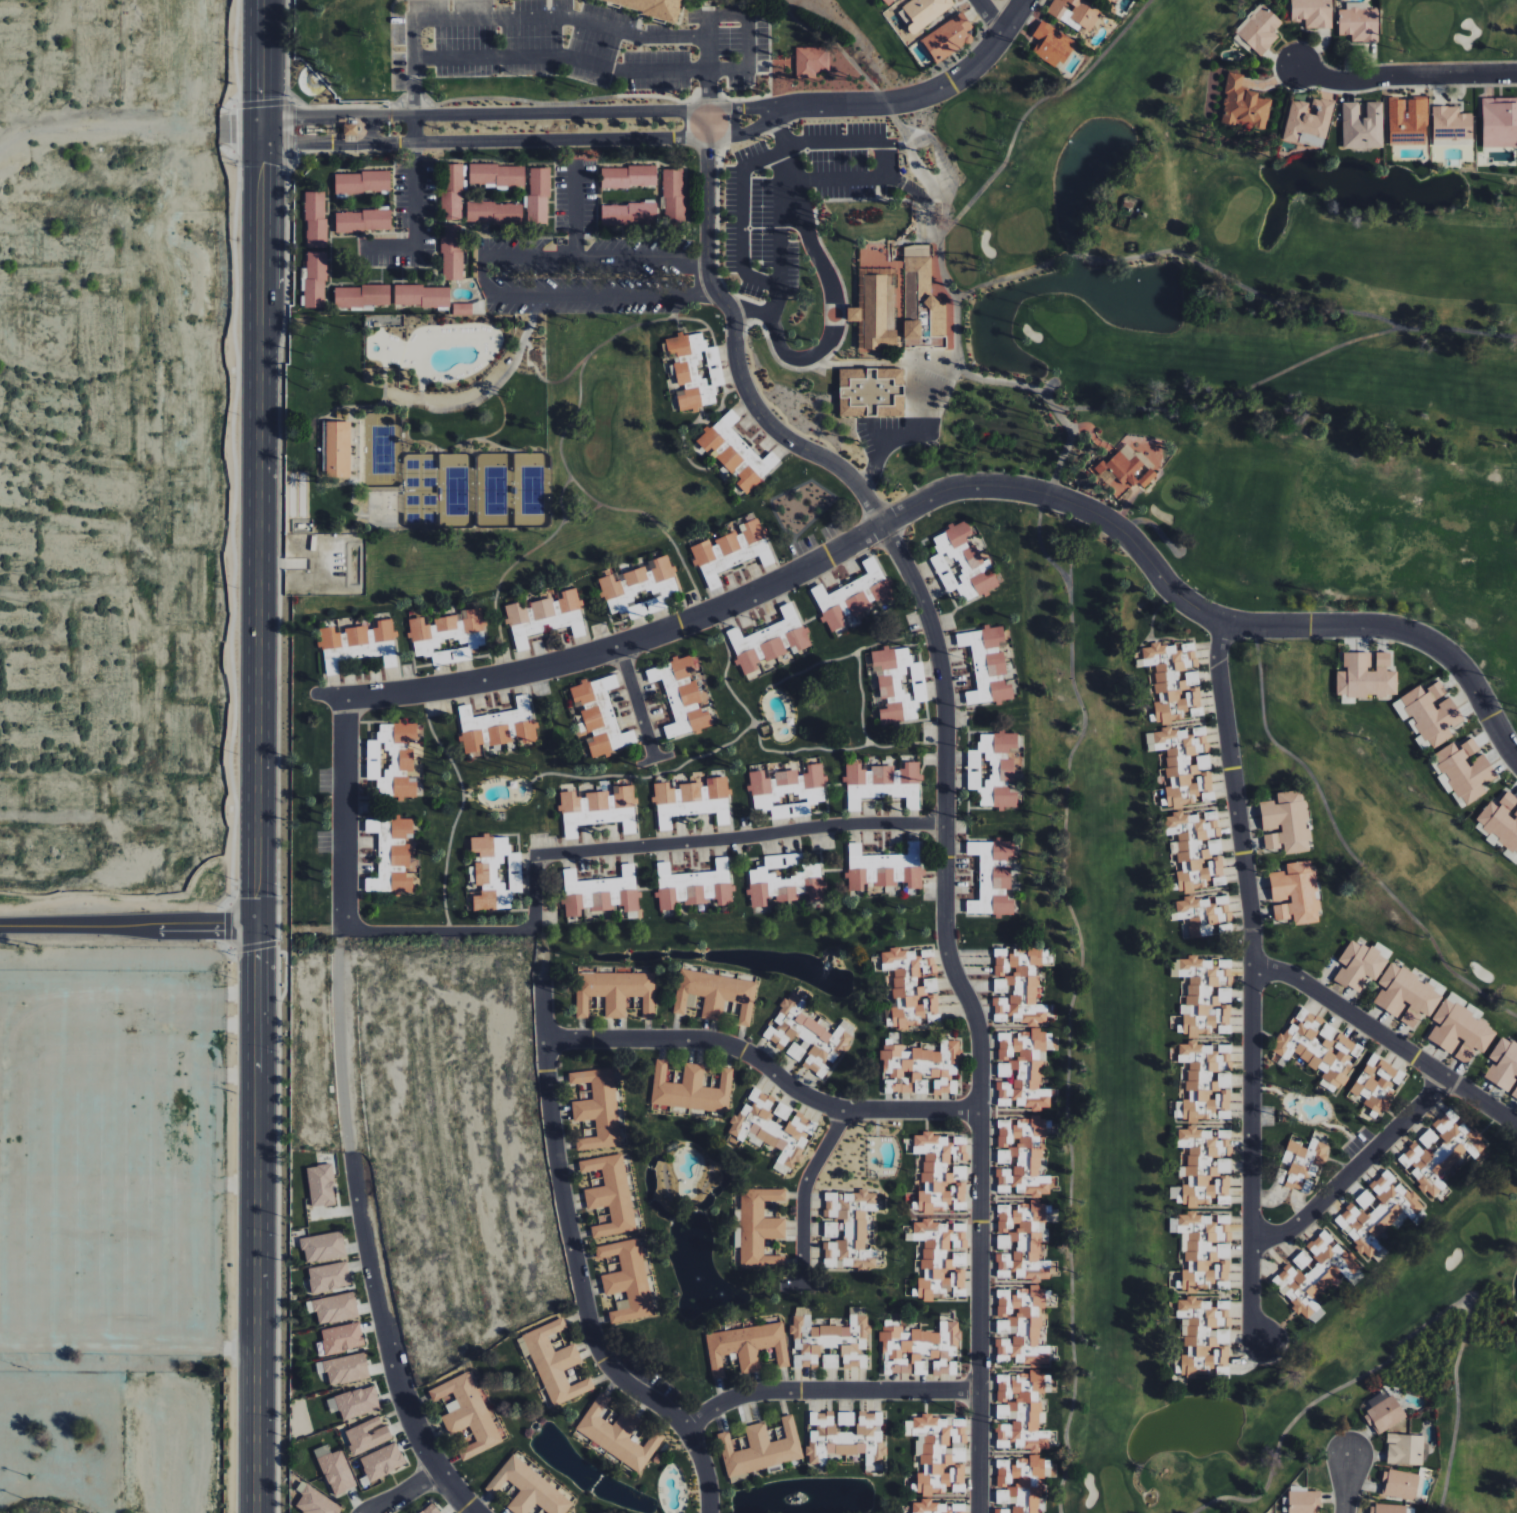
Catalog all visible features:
building: (888, 1)
building: (1110, 2)
building: (652, 8)
building: (922, 12)
building: (1312, 12)
building: (1075, 13)
road: (990, 16)
road: (562, 17)
building: (1358, 22)
road: (748, 25)
building: (1260, 30)
park: (1447, 30)
building: (948, 37)
parking lot: (575, 43)
road: (835, 44)
building: (1052, 44)
road: (581, 61)
building: (810, 61)
road: (709, 63)
road: (261, 71)
road: (1405, 75)
fountain: (314, 79)
road: (937, 90)
traffic signals: (261, 98)
building: (1243, 105)
road: (759, 106)
road: (1033, 107)
road: (697, 111)
road: (504, 114)
road: (293, 118)
traffic signals: (295, 118)
building: (1308, 118)
building: (348, 121)
road: (355, 121)
building: (1407, 121)
building: (1499, 122)
road: (760, 126)
building: (1362, 126)
flagpole: (322, 127)
building: (348, 130)
flagpole: (322, 131)
road: (414, 134)
flagpole: (322, 135)
road: (697, 138)
building: (348, 139)
road: (356, 139)
road: (505, 140)
road: (846, 141)
road: (293, 143)
road: (261, 152)
road: (771, 155)
road: (890, 159)
traffic signals: (261, 162)
fountain: (1095, 163)
building: (451, 171)
building: (474, 174)
building: (488, 174)
building: (537, 175)
building: (634, 176)
building: (647, 176)
building: (672, 176)
building: (502, 177)
building: (516, 177)
building: (606, 179)
building: (620, 179)
building: (368, 181)
building: (381, 181)
building: (340, 184)
building: (354, 184)
building: (451, 186)
building: (537, 190)
building: (672, 190)
fountain: (1408, 194)
road: (919, 195)
building: (313, 198)
road: (576, 198)
building: (449, 200)
road: (782, 200)
building: (536, 204)
building: (674, 204)
building: (313, 212)
building: (472, 212)
building: (486, 212)
building: (449, 214)
building: (500, 214)
building: (513, 214)
building: (634, 214)
building: (648, 214)
building: (607, 216)
building: (621, 216)
building: (536, 218)
building: (674, 218)
road: (741, 219)
building: (368, 221)
building: (382, 221)
building: (341, 223)
building: (355, 223)
building: (315, 226)
building: (449, 232)
building: (315, 241)
building: (449, 246)
road: (389, 247)
road: (1075, 256)
road: (595, 257)
building: (315, 259)
building: (451, 260)
building: (315, 274)
building: (451, 274)
road: (482, 277)
road: (1012, 278)
road: (758, 279)
road: (1243, 286)
building: (313, 288)
road: (830, 292)
building: (400, 295)
building: (413, 295)
road: (603, 295)
building: (367, 296)
building: (381, 296)
fountain: (1141, 296)
building: (340, 298)
building: (354, 298)
building: (427, 298)
building: (441, 298)
building: (313, 302)
building: (924, 303)
building: (460, 309)
road: (958, 327)
road: (1461, 331)
fountain: (992, 338)
road: (722, 353)
building: (695, 370)
road: (724, 375)
road: (1047, 388)
building: (871, 392)
road: (1235, 396)
road: (739, 411)
road: (751, 419)
road: (764, 434)
road: (907, 437)
building: (335, 449)
park: (383, 450)
building: (736, 452)
road: (778, 453)
building: (1119, 468)
building: (1145, 479)
park: (494, 490)
park: (532, 490)
park: (421, 491)
park: (456, 491)
road: (260, 545)
building: (731, 551)
building: (963, 564)
road: (1151, 565)
building: (639, 589)
building: (853, 597)
building: (545, 617)
road: (697, 617)
building: (447, 636)
road: (1416, 637)
building: (770, 640)
building: (358, 645)
building: (987, 665)
building: (1366, 676)
building: (1173, 681)
building: (898, 684)
building: (681, 695)
road: (637, 702)
building: (1432, 713)
building: (600, 715)
building: (497, 725)
building: (392, 760)
road: (655, 760)
park: (1317, 760)
building: (1184, 765)
building: (1465, 769)
road: (946, 772)
building: (883, 784)
building: (788, 791)
building: (692, 801)
building: (598, 809)
road: (345, 817)
building: (1501, 821)
building: (1286, 822)
road: (741, 838)
road: (1345, 844)
building: (1196, 850)
building: (393, 855)
building: (884, 868)
building: (495, 874)
building: (992, 877)
building: (786, 881)
road: (536, 893)
building: (602, 893)
building: (1295, 893)
traffic signals: (260, 899)
building: (1205, 916)
road: (129, 927)
traffic signals: (231, 929)
road: (437, 931)
traffic signals: (260, 953)
fountain: (832, 954)
fountain: (594, 957)
building: (1359, 965)
road: (1252, 983)
building: (913, 986)
building: (1017, 986)
building: (1436, 986)
building: (615, 992)
building: (1205, 994)
building: (715, 995)
road: (1074, 995)
building: (1405, 995)
building: (1457, 999)
building: (1460, 1032)
building: (807, 1037)
road: (1388, 1039)
building: (1317, 1047)
road: (766, 1066)
building: (1503, 1067)
building: (920, 1068)
building: (1205, 1083)
building: (1327, 1085)
building: (1375, 1086)
building: (691, 1089)
building: (597, 1108)
building: (773, 1128)
building: (1443, 1152)
building: (1021, 1157)
building: (1302, 1165)
building: (1204, 1168)
road: (1354, 1169)
building: (942, 1173)
fountain: (716, 1184)
building: (321, 1185)
fountain: (658, 1191)
road: (805, 1193)
building: (610, 1194)
building: (1379, 1214)
road: (259, 1220)
building: (759, 1228)
building: (849, 1230)
building: (1021, 1242)
building: (323, 1247)
building: (1204, 1250)
building: (941, 1259)
road: (577, 1270)
building: (1316, 1273)
building: (329, 1277)
building: (627, 1280)
road: (803, 1285)
fountain: (698, 1287)
fountain: (733, 1295)
building: (334, 1308)
building: (1021, 1326)
building: (1204, 1336)
road: (1410, 1336)
building: (342, 1338)
building: (829, 1339)
road: (388, 1342)
building: (746, 1347)
building: (921, 1350)
building: (830, 1361)
building: (555, 1364)
building: (344, 1369)
road: (828, 1391)
building: (354, 1403)
building: (1021, 1411)
building: (1383, 1412)
building: (467, 1413)
building: (845, 1418)
fountain: (534, 1427)
building: (617, 1434)
building: (367, 1435)
building: (847, 1438)
building: (1405, 1449)
building: (760, 1450)
building: (939, 1452)
building: (382, 1462)
building: (335, 1470)
building: (1021, 1483)
road: (1346, 1484)
building: (1400, 1484)
building: (528, 1489)
road: (405, 1492)
fountain: (1150, 1499)
fountain: (793, 1500)
building: (1304, 1502)
building: (315, 1503)
building: (937, 1507)
building: (430, 1508)
building: (1391, 1509)

